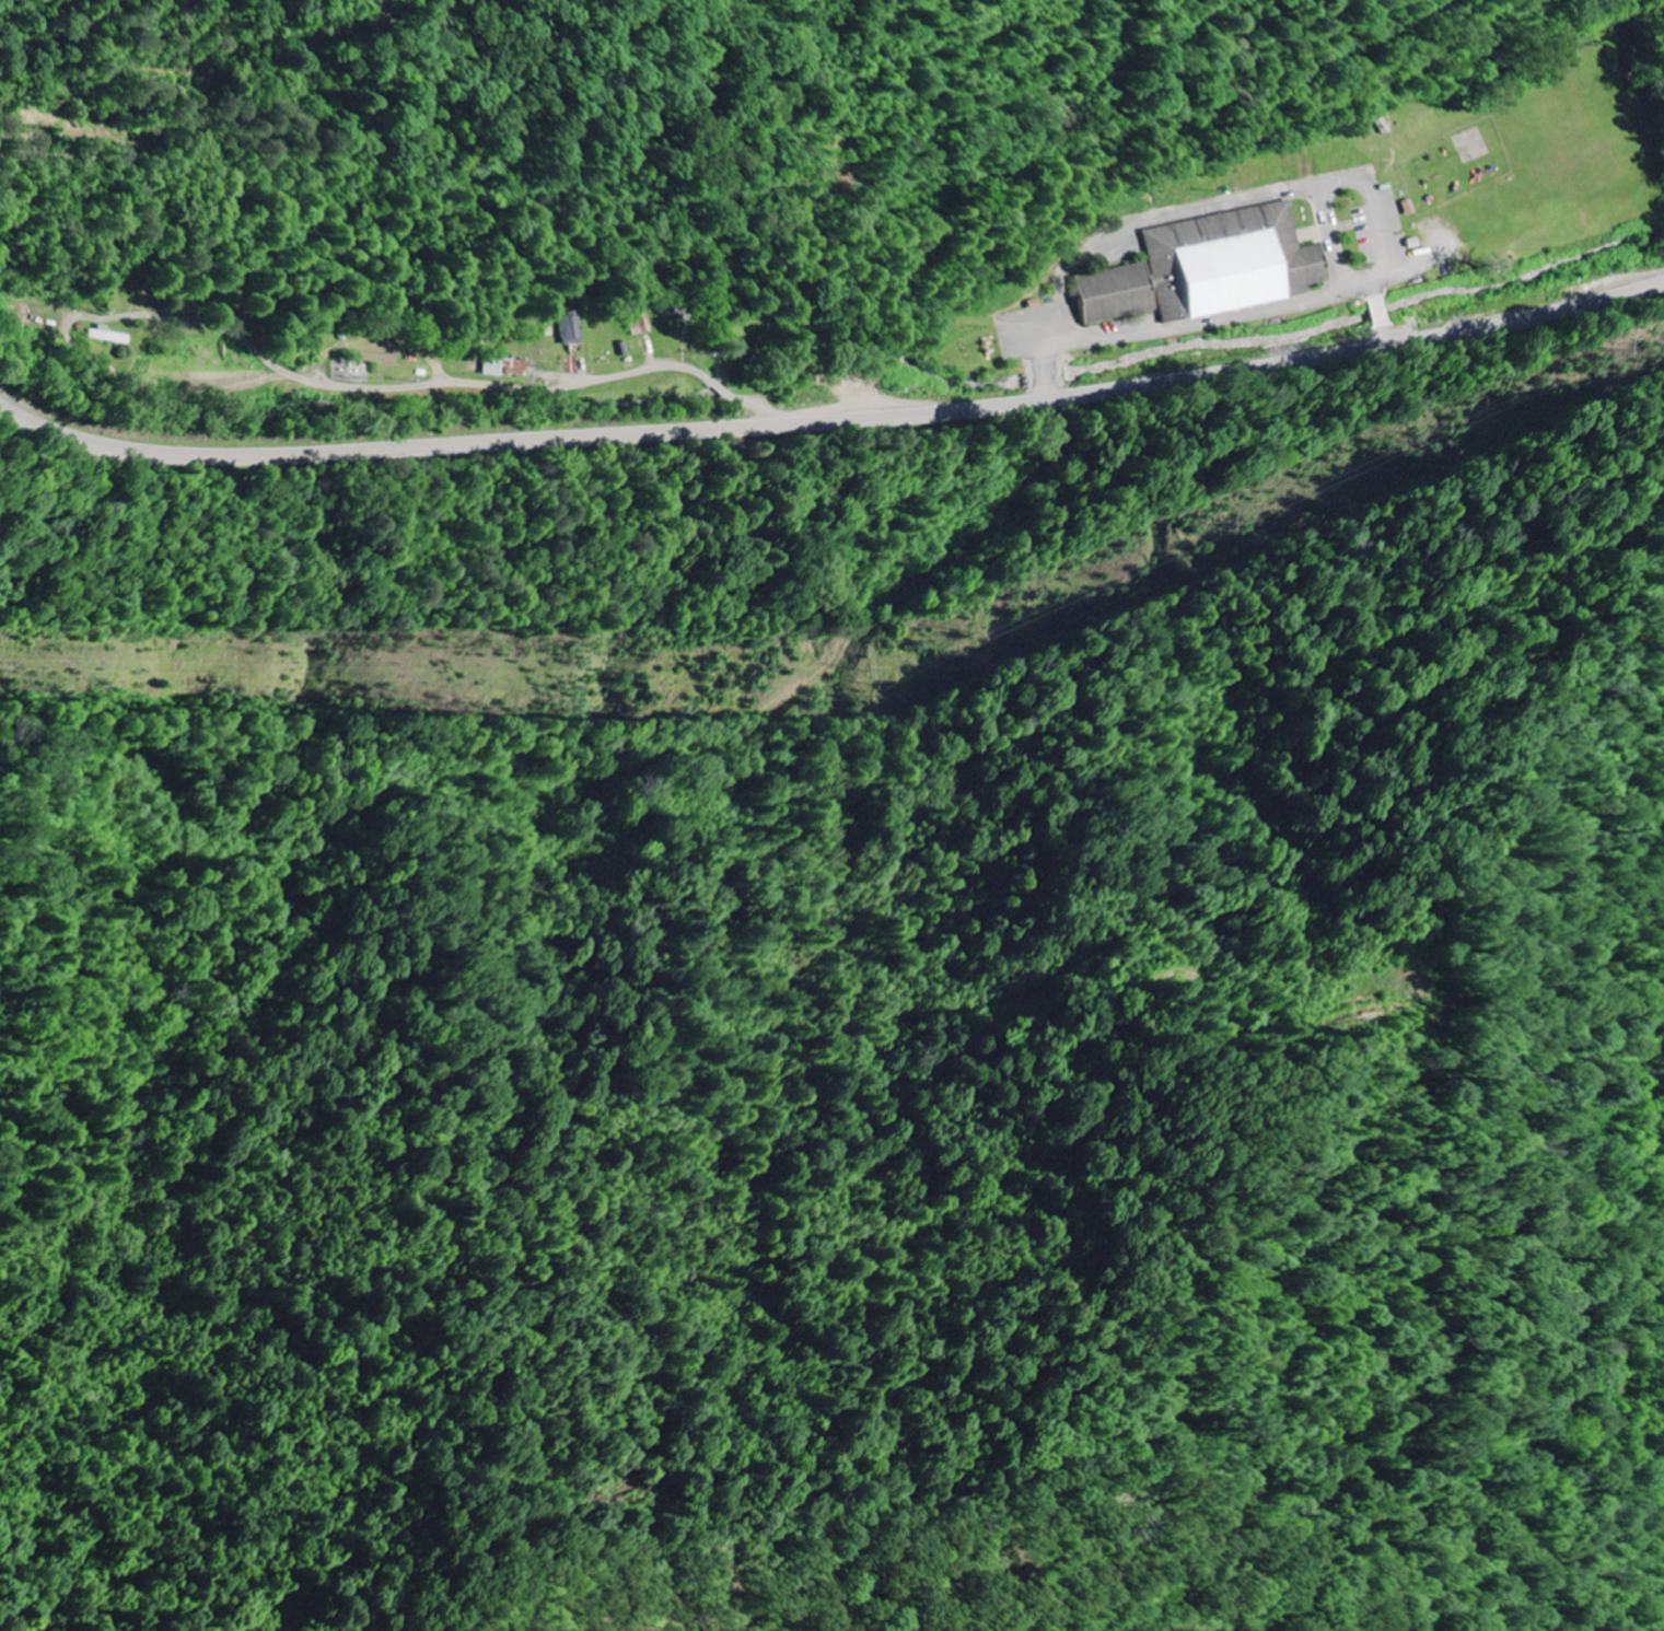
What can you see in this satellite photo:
building: (1229, 264)
building: (1110, 295)
building: (639, 326)
building: (569, 330)
building: (105, 337)
building: (491, 369)
road: (440, 384)
road: (833, 421)

